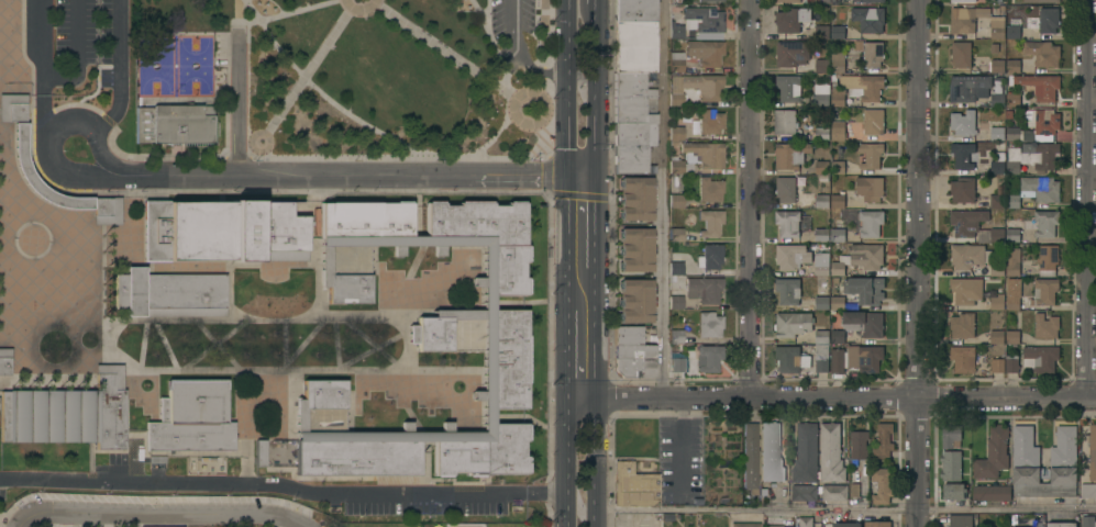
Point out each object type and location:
building: (710, 0)
building: (786, 0)
building: (870, 0)
building: (964, 0)
building: (1041, 0)
building: (824, 1)
road: (253, 10)
road: (299, 11)
building: (634, 11)
road: (597, 13)
road: (488, 14)
road: (359, 16)
building: (966, 18)
building: (791, 19)
building: (868, 19)
building: (1049, 19)
building: (698, 24)
building: (998, 27)
parking lot: (511, 29)
building: (1014, 29)
building: (838, 32)
road: (543, 34)
building: (821, 36)
parking lot: (78, 41)
road: (494, 44)
building: (634, 47)
building: (995, 48)
road: (446, 53)
building: (704, 53)
building: (791, 53)
building: (1042, 53)
building: (873, 54)
building: (961, 54)
road: (521, 55)
road: (78, 57)
building: (675, 61)
building: (822, 65)
building: (997, 65)
building: (1012, 65)
building: (837, 66)
road: (117, 67)
road: (41, 71)
road: (308, 74)
road: (543, 74)
park: (341, 79)
building: (1040, 85)
building: (702, 86)
building: (863, 86)
road: (568, 87)
building: (968, 87)
road: (543, 88)
building: (788, 88)
building: (998, 92)
building: (821, 93)
building: (675, 97)
building: (838, 97)
building: (1012, 99)
road: (595, 100)
road: (234, 104)
road: (343, 110)
building: (13, 112)
road: (544, 120)
building: (709, 122)
building: (785, 122)
building: (873, 122)
building: (963, 122)
building: (633, 123)
building: (173, 125)
building: (1036, 125)
building: (838, 130)
building: (997, 130)
building: (821, 133)
road: (496, 136)
road: (269, 149)
building: (696, 150)
building: (790, 154)
building: (963, 155)
building: (870, 156)
road: (501, 157)
building: (1032, 157)
building: (997, 162)
building: (675, 166)
building: (822, 167)
building: (838, 167)
traffic signals: (568, 173)
road: (580, 173)
traffic signals: (593, 173)
road: (234, 175)
building: (788, 188)
building: (870, 188)
building: (962, 189)
building: (709, 190)
building: (1036, 190)
building: (998, 198)
building: (634, 199)
road: (663, 199)
road: (750, 199)
road: (1086, 199)
building: (838, 200)
building: (675, 201)
building: (821, 201)
building: (106, 211)
building: (709, 223)
building: (787, 223)
building: (871, 223)
building: (1045, 223)
building: (974, 225)
building: (222, 232)
road: (594, 233)
building: (837, 234)
road: (567, 235)
building: (675, 235)
building: (822, 235)
building: (1012, 235)
building: (634, 249)
building: (796, 255)
building: (710, 257)
building: (974, 258)
building: (859, 259)
building: (1048, 260)
building: (1012, 261)
road: (918, 263)
building: (821, 265)
building: (675, 269)
road: (323, 280)
building: (866, 289)
building: (702, 290)
building: (788, 290)
building: (966, 290)
building: (1044, 291)
building: (169, 294)
building: (634, 301)
building: (821, 302)
building: (997, 302)
building: (1012, 302)
building: (675, 303)
building: (837, 303)
road: (268, 318)
building: (864, 323)
building: (793, 324)
building: (709, 325)
building: (962, 325)
building: (1045, 326)
building: (821, 336)
building: (837, 336)
building: (675, 337)
building: (1012, 337)
building: (990, 338)
building: (424, 340)
road: (596, 345)
road: (213, 346)
road: (301, 346)
road: (334, 346)
road: (372, 346)
road: (142, 347)
road: (165, 347)
road: (217, 347)
park: (261, 347)
road: (567, 347)
building: (631, 352)
road: (367, 354)
building: (821, 357)
building: (709, 358)
building: (865, 358)
building: (963, 358)
building: (1040, 358)
building: (790, 359)
building: (4, 360)
building: (838, 360)
building: (1011, 363)
building: (676, 365)
building: (997, 365)
road: (303, 373)
road: (486, 384)
road: (582, 397)
road: (846, 397)
building: (109, 407)
park: (378, 416)
building: (48, 417)
building: (191, 417)
park: (429, 419)
building: (950, 435)
building: (883, 440)
building: (857, 446)
road: (567, 447)
building: (806, 452)
building: (1093, 452)
building: (259, 453)
building: (770, 453)
building: (831, 453)
building: (993, 453)
building: (750, 458)
road: (597, 462)
building: (1063, 464)
building: (951, 466)
building: (882, 485)
building: (633, 486)
road: (285, 487)
building: (1088, 490)
building: (953, 491)
building: (834, 492)
building: (992, 492)
parking lot: (1, 493)
building: (804, 493)
parking lot: (424, 508)
road: (846, 509)
road: (568, 512)
road: (143, 514)
road: (287, 520)
building: (960, 520)
building: (1086, 520)
building: (805, 522)
building: (877, 524)
building: (744, 525)
building: (846, 525)
building: (1062, 525)
building: (779, 526)
building: (1019, 526)

